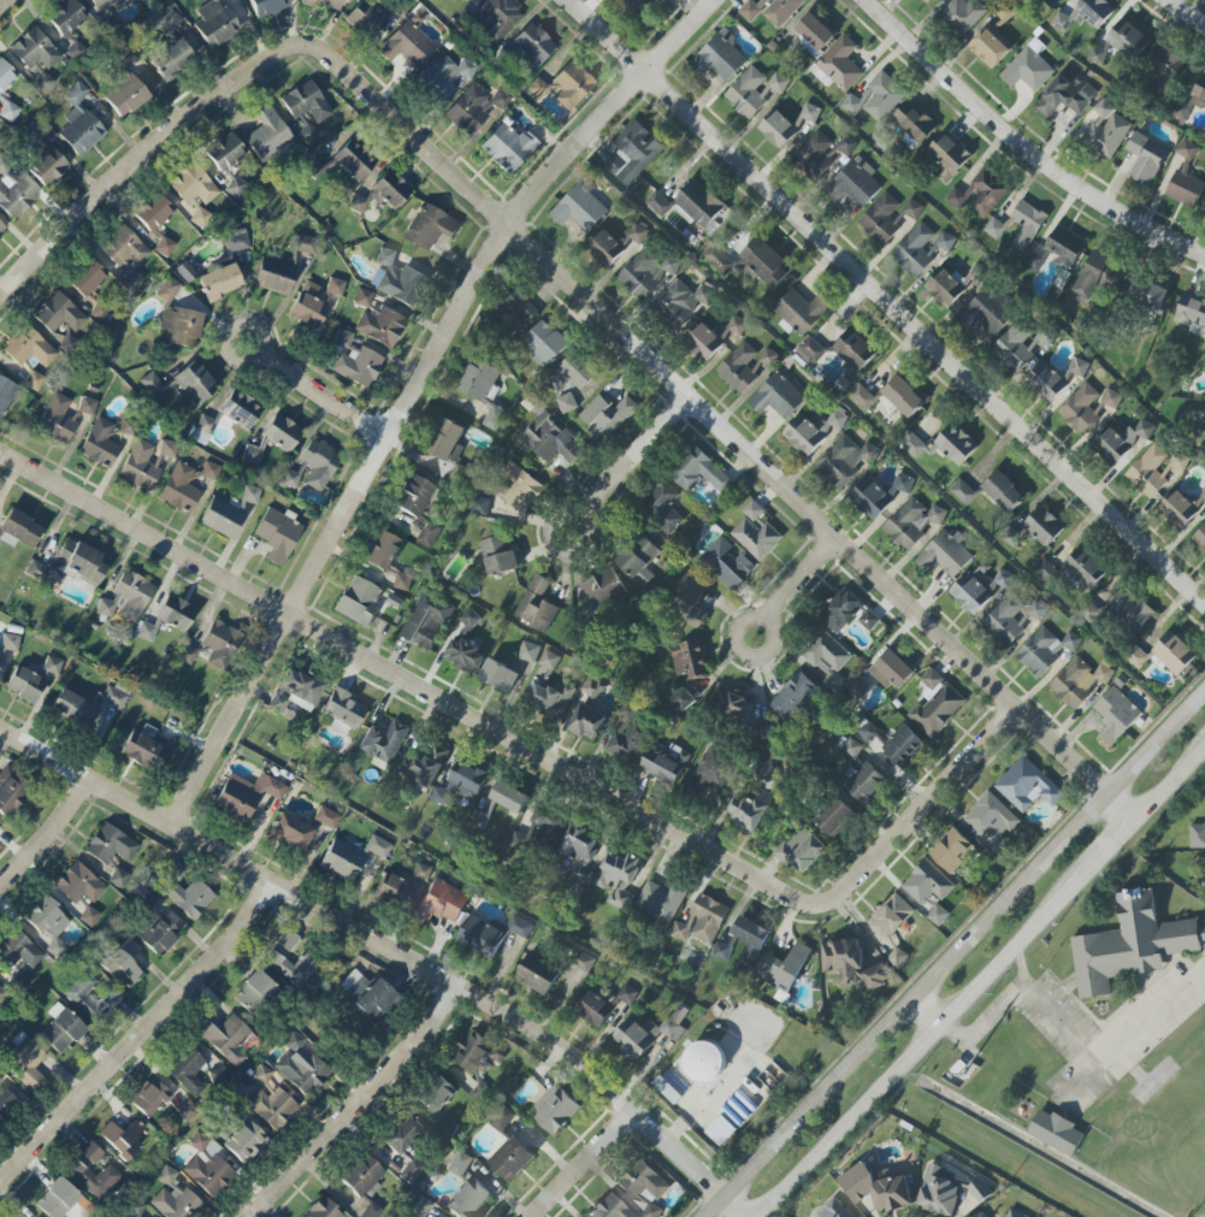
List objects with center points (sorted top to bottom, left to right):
building: (144, 0)
building: (463, 0)
building: (926, 1)
building: (637, 2)
building: (1051, 2)
building: (324, 4)
building: (104, 5)
building: (267, 6)
road: (8, 7)
building: (770, 10)
building: (1094, 11)
building: (1004, 13)
building: (962, 14)
road: (1185, 14)
building: (66, 17)
building: (367, 18)
building: (495, 19)
building: (1061, 22)
building: (169, 23)
building: (214, 24)
building: (816, 30)
building: (1128, 40)
building: (407, 45)
building: (531, 46)
building: (990, 47)
building: (34, 49)
building: (75, 52)
building: (1097, 55)
building: (719, 58)
building: (171, 59)
building: (1166, 65)
building: (839, 66)
building: (1028, 67)
building: (443, 75)
building: (5, 76)
building: (43, 83)
building: (779, 83)
building: (571, 87)
building: (537, 89)
building: (746, 93)
building: (124, 95)
building: (1065, 95)
building: (876, 98)
building: (1191, 100)
building: (306, 102)
building: (473, 108)
building: (8, 112)
building: (808, 114)
building: (914, 122)
building: (78, 123)
building: (778, 129)
building: (1106, 130)
building: (268, 135)
building: (846, 144)
road: (1021, 146)
building: (507, 147)
building: (225, 152)
building: (633, 153)
road: (146, 154)
building: (814, 155)
building: (946, 158)
building: (1146, 158)
building: (353, 161)
building: (48, 167)
building: (1186, 178)
building: (856, 183)
building: (193, 184)
building: (236, 188)
building: (382, 194)
building: (18, 195)
building: (979, 195)
building: (658, 203)
building: (698, 203)
building: (579, 209)
building: (911, 209)
building: (153, 212)
building: (200, 217)
building: (880, 219)
building: (430, 226)
building: (1, 228)
building: (996, 229)
building: (637, 234)
building: (236, 241)
building: (306, 244)
building: (164, 247)
building: (1062, 248)
building: (124, 249)
building: (606, 249)
building: (918, 250)
building: (717, 259)
building: (762, 264)
building: (185, 271)
building: (646, 272)
building: (274, 276)
building: (1098, 277)
building: (87, 279)
building: (396, 279)
building: (219, 282)
building: (946, 285)
building: (335, 286)
building: (1148, 294)
building: (362, 297)
building: (681, 302)
road: (885, 302)
building: (308, 306)
building: (513, 308)
building: (1191, 311)
building: (801, 312)
building: (98, 313)
building: (59, 314)
building: (985, 314)
building: (177, 318)
building: (380, 326)
building: (734, 326)
building: (703, 342)
building: (545, 344)
building: (1014, 345)
building: (29, 349)
building: (809, 350)
building: (855, 350)
building: (353, 362)
road: (246, 364)
building: (745, 366)
building: (1077, 367)
building: (571, 374)
building: (34, 380)
building: (480, 382)
building: (1046, 383)
building: (182, 385)
road: (410, 389)
building: (5, 395)
building: (903, 396)
road: (321, 397)
building: (776, 397)
building: (862, 397)
building: (1111, 400)
building: (566, 403)
building: (87, 406)
building: (1081, 409)
building: (228, 417)
building: (606, 417)
building: (55, 418)
building: (494, 418)
building: (126, 427)
building: (811, 431)
building: (280, 432)
road: (722, 435)
building: (550, 439)
building: (448, 441)
building: (1121, 441)
building: (100, 444)
building: (955, 444)
building: (912, 445)
building: (166, 448)
building: (250, 455)
road: (630, 456)
building: (845, 460)
building: (1180, 463)
building: (312, 466)
building: (140, 467)
building: (1148, 472)
building: (701, 473)
building: (455, 478)
building: (903, 483)
building: (185, 485)
building: (522, 490)
building: (1004, 491)
building: (962, 492)
building: (413, 496)
building: (1201, 496)
building: (248, 497)
building: (870, 498)
building: (480, 506)
building: (662, 508)
building: (1179, 510)
building: (221, 518)
building: (911, 522)
building: (1044, 526)
road: (586, 528)
building: (18, 530)
building: (277, 534)
building: (429, 534)
building: (1010, 537)
building: (756, 538)
building: (1200, 540)
building: (382, 551)
building: (945, 554)
building: (498, 555)
building: (638, 556)
building: (81, 561)
building: (726, 563)
building: (1085, 568)
building: (37, 571)
building: (1045, 572)
building: (402, 581)
road: (798, 583)
building: (602, 587)
building: (980, 587)
building: (689, 597)
building: (126, 598)
building: (359, 601)
building: (537, 605)
building: (1036, 610)
building: (841, 612)
building: (176, 613)
building: (469, 619)
building: (869, 620)
building: (426, 621)
building: (1004, 621)
road: (758, 622)
building: (146, 631)
building: (10, 643)
building: (220, 645)
building: (1045, 650)
building: (465, 652)
building: (528, 652)
building: (1174, 654)
building: (187, 655)
building: (1136, 656)
building: (1, 657)
building: (828, 658)
building: (549, 660)
building: (690, 660)
building: (52, 666)
building: (892, 669)
building: (498, 677)
road: (408, 683)
building: (1079, 683)
building: (25, 685)
building: (595, 686)
building: (856, 689)
building: (296, 692)
building: (793, 696)
building: (549, 699)
building: (681, 703)
building: (731, 704)
building: (937, 705)
building: (71, 708)
building: (343, 710)
building: (107, 711)
building: (1115, 715)
building: (586, 722)
building: (763, 731)
building: (868, 733)
building: (627, 735)
building: (383, 742)
building: (903, 746)
building: (852, 749)
building: (143, 752)
building: (663, 763)
building: (423, 767)
building: (711, 769)
building: (766, 772)
road: (1170, 782)
building: (866, 784)
building: (461, 785)
building: (1027, 786)
building: (11, 791)
building: (246, 794)
building: (509, 797)
building: (749, 809)
road: (920, 811)
building: (326, 817)
building: (834, 817)
building: (991, 817)
building: (480, 820)
road: (46, 828)
building: (538, 832)
building: (290, 833)
building: (1197, 834)
building: (578, 843)
building: (110, 845)
building: (377, 846)
building: (802, 850)
road: (1107, 850)
building: (952, 851)
building: (342, 861)
building: (420, 873)
building: (118, 878)
building: (616, 878)
building: (927, 882)
building: (78, 885)
building: (394, 891)
building: (189, 897)
building: (661, 900)
building: (441, 903)
building: (938, 915)
building: (891, 916)
building: (89, 917)
building: (702, 921)
building: (48, 923)
building: (520, 927)
building: (750, 933)
building: (156, 934)
building: (480, 938)
building: (1130, 945)
road: (389, 946)
building: (19, 951)
building: (721, 951)
building: (278, 955)
road: (955, 956)
building: (897, 957)
building: (120, 961)
building: (583, 962)
building: (851, 963)
road: (1021, 967)
building: (784, 968)
building: (538, 974)
building: (353, 983)
building: (254, 992)
building: (2, 994)
building: (627, 994)
building: (77, 997)
building: (374, 1000)
building: (593, 1009)
building: (60, 1029)
road: (137, 1029)
building: (645, 1034)
building: (226, 1038)
road: (1069, 1040)
road: (916, 1047)
building: (478, 1054)
building: (704, 1062)
building: (25, 1064)
building: (301, 1067)
building: (187, 1071)
building: (261, 1075)
road: (1082, 1076)
building: (479, 1093)
building: (437, 1095)
building: (149, 1098)
building: (5, 1100)
road: (352, 1101)
building: (272, 1107)
building: (555, 1110)
building: (187, 1111)
building: (501, 1118)
building: (1056, 1133)
building: (402, 1134)
building: (122, 1139)
building: (244, 1141)
building: (510, 1159)
building: (460, 1164)
road: (585, 1164)
building: (208, 1169)
building: (410, 1171)
building: (79, 1174)
building: (166, 1175)
building: (361, 1175)
building: (644, 1187)
building: (876, 1189)
building: (980, 1191)
building: (939, 1193)
building: (57, 1199)
building: (469, 1200)
building: (176, 1204)
building: (419, 1207)
building: (609, 1207)
building: (323, 1210)
building: (835, 1210)
building: (371, 1211)
building: (1014, 1213)
building: (980, 1215)
building: (1203, 1215)

